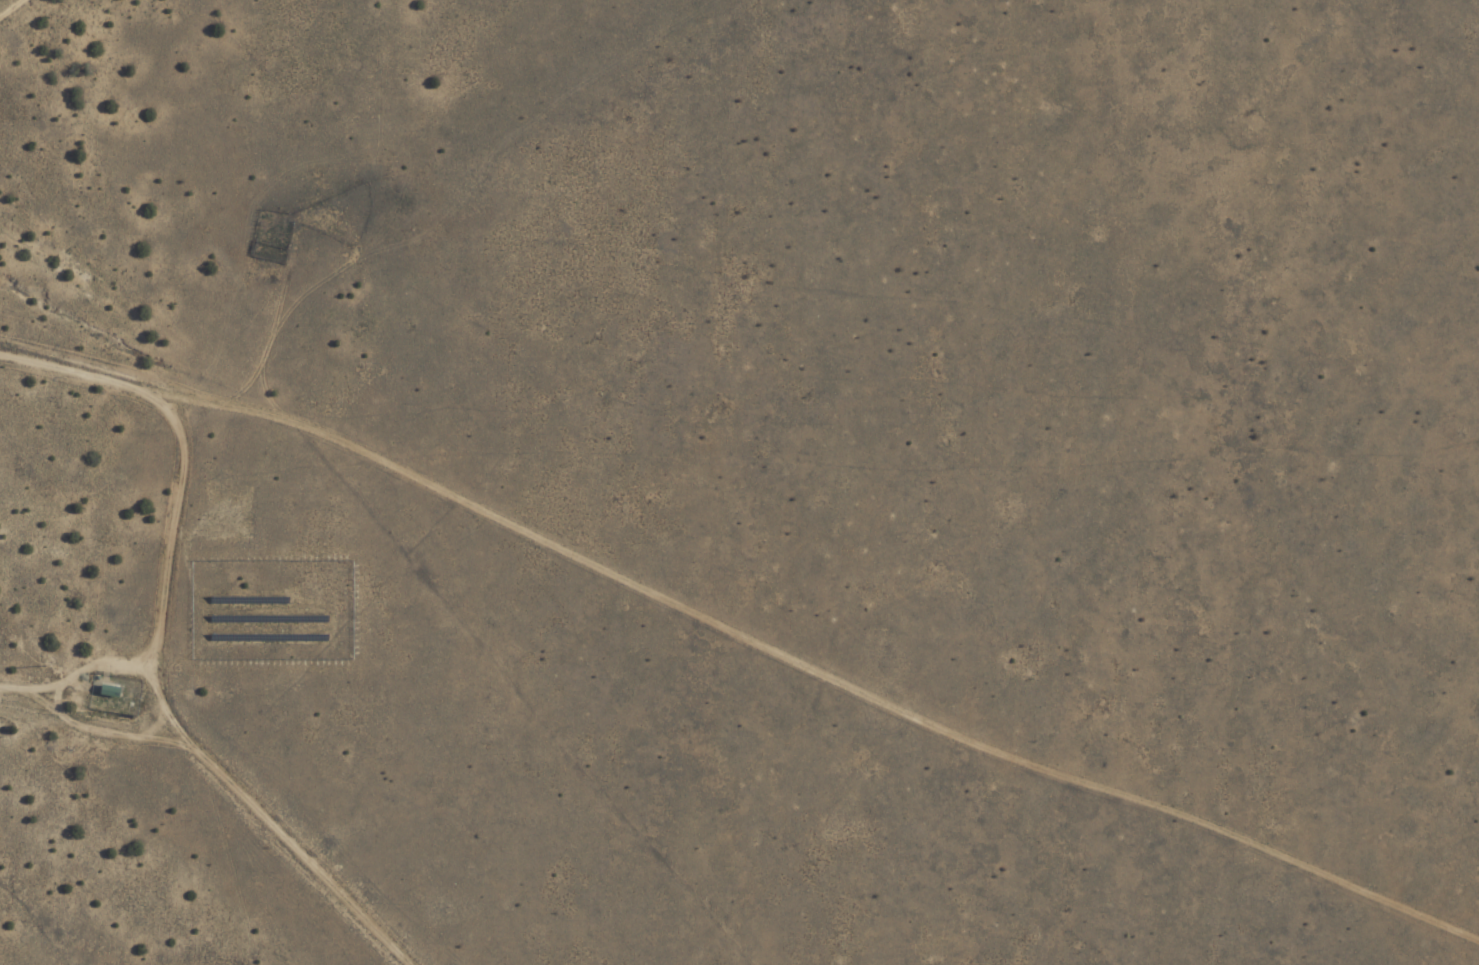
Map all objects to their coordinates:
building: (111, 691)

